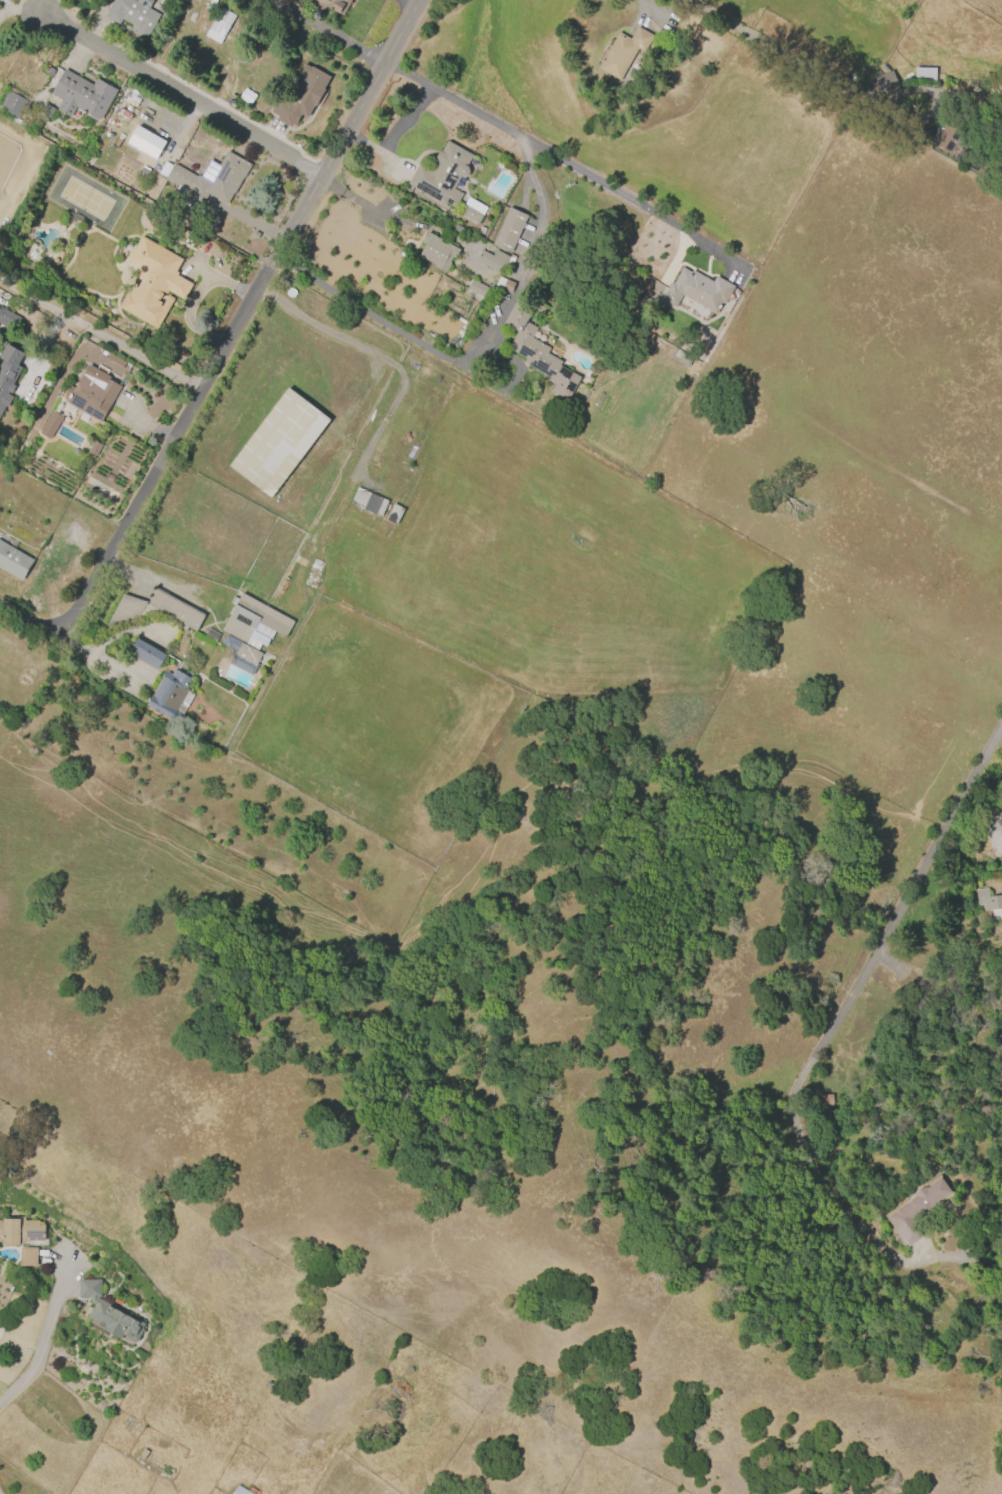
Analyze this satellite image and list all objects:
building: (331, 4)
building: (133, 15)
building: (221, 22)
road: (321, 30)
building: (623, 53)
road: (796, 60)
building: (924, 74)
building: (885, 82)
road: (955, 88)
building: (82, 95)
building: (301, 95)
road: (181, 96)
building: (12, 106)
building: (145, 142)
building: (958, 148)
road: (555, 158)
building: (164, 170)
building: (442, 175)
building: (210, 179)
building: (471, 210)
road: (387, 215)
building: (509, 229)
building: (461, 231)
building: (181, 233)
building: (436, 251)
building: (491, 261)
building: (152, 282)
building: (503, 284)
road: (261, 289)
building: (697, 290)
building: (475, 291)
building: (8, 320)
road: (99, 333)
road: (220, 347)
building: (537, 351)
road: (432, 352)
building: (8, 373)
building: (92, 393)
road: (349, 413)
building: (50, 425)
building: (278, 443)
building: (94, 449)
road: (367, 482)
building: (368, 502)
building: (393, 514)
building: (13, 562)
building: (151, 612)
building: (250, 631)
building: (211, 635)
building: (145, 653)
road: (98, 658)
building: (167, 693)
building: (995, 835)
building: (1001, 888)
building: (989, 901)
road: (890, 922)
building: (825, 1100)
building: (916, 1210)
building: (20, 1231)
building: (27, 1257)
building: (109, 1314)
road: (46, 1344)
building: (239, 1491)

